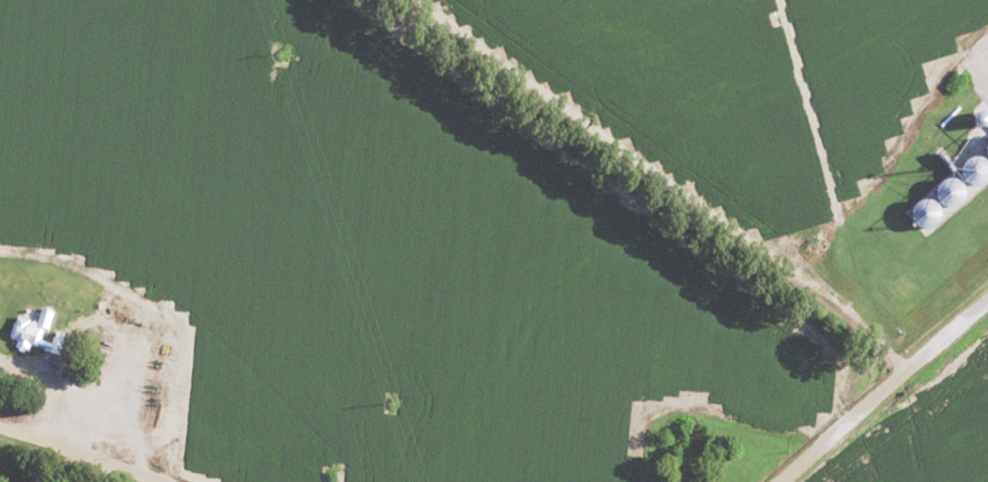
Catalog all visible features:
power tower: (279, 51)
road: (638, 166)
building: (969, 171)
road: (828, 192)
building: (947, 195)
building: (924, 219)
building: (54, 317)
road: (949, 331)
road: (44, 385)
power tower: (392, 402)
road: (842, 422)
road: (79, 453)
building: (309, 455)
building: (704, 479)

